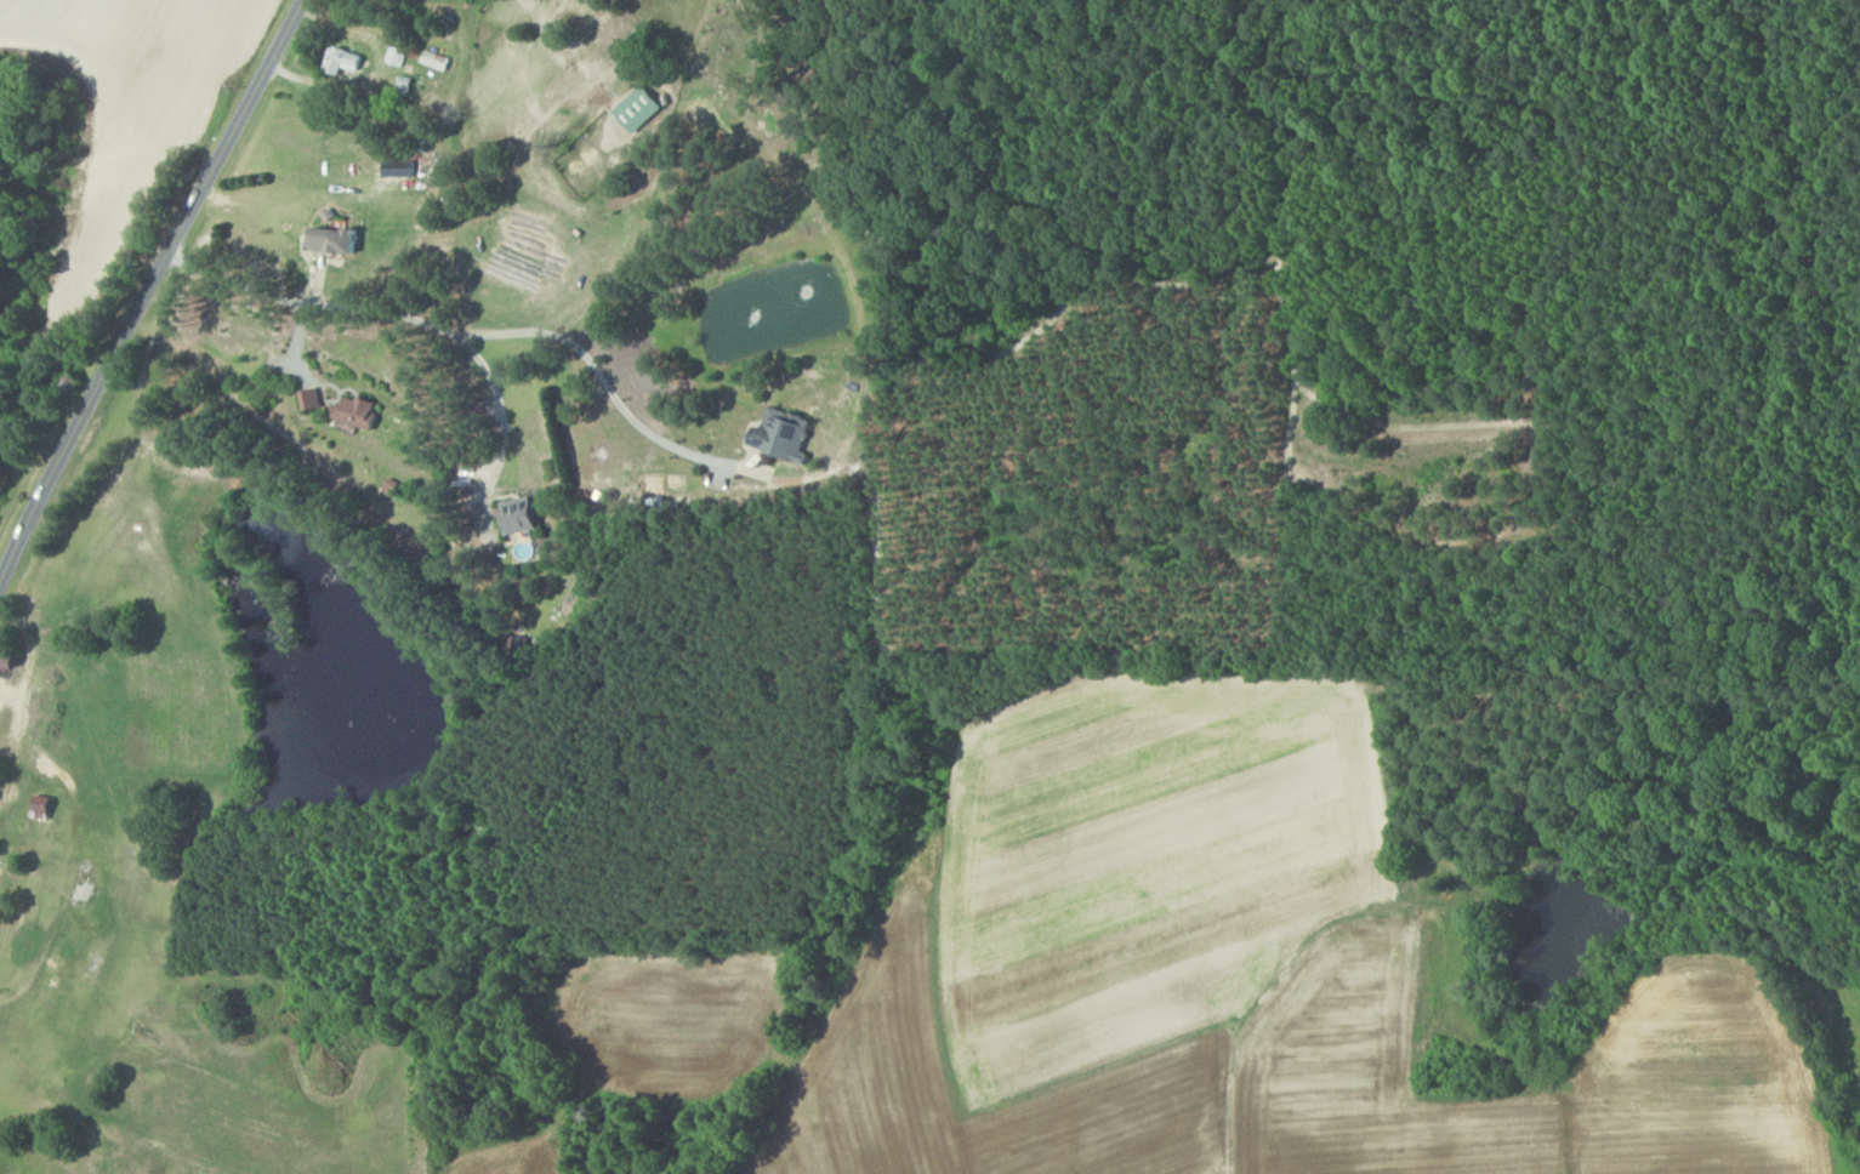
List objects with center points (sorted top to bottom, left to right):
building: (397, 56)
building: (345, 61)
building: (639, 108)
building: (400, 166)
building: (336, 240)
road: (149, 287)
road: (306, 304)
road: (603, 378)
building: (314, 399)
road: (502, 404)
building: (360, 412)
building: (786, 435)
building: (522, 515)
building: (44, 808)
road: (1213, 1138)

